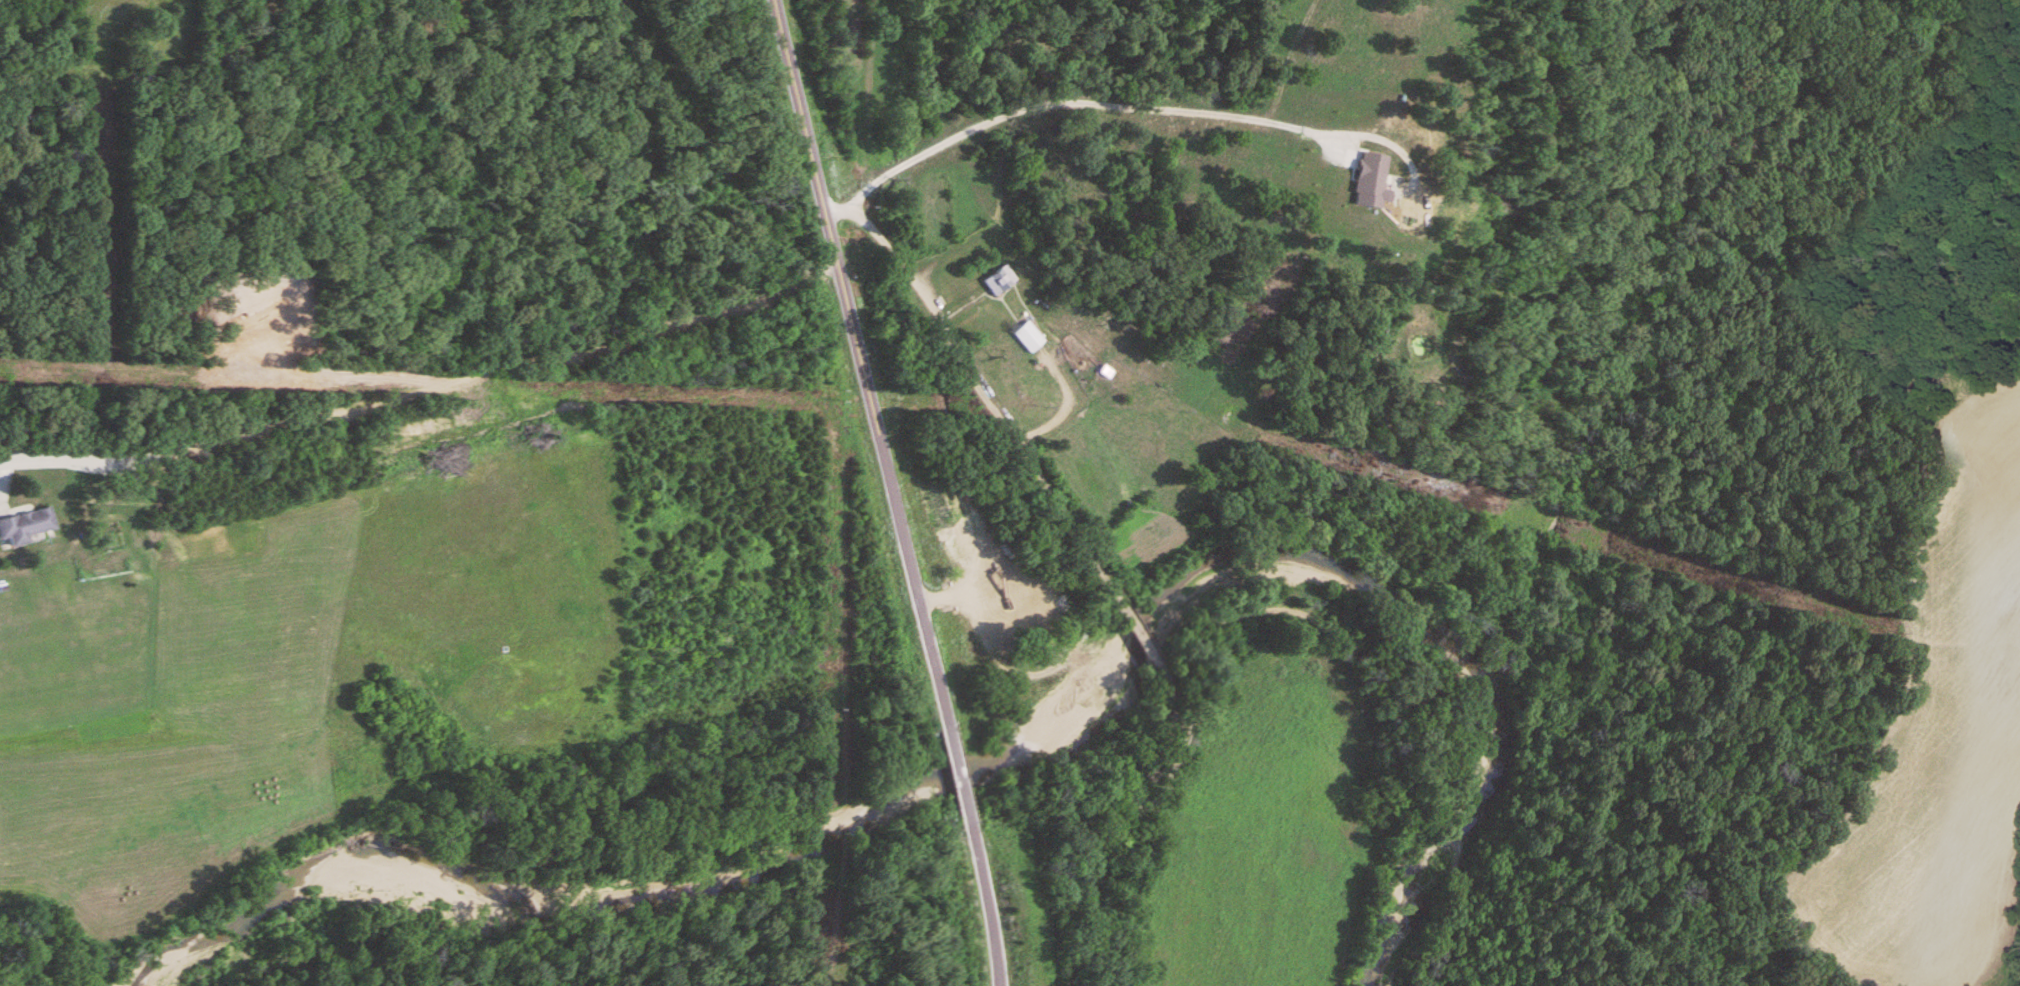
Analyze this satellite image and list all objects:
road: (1082, 103)
building: (1002, 281)
building: (1030, 337)
road: (960, 368)
building: (1120, 376)
road: (422, 390)
road: (888, 492)
building: (26, 525)

